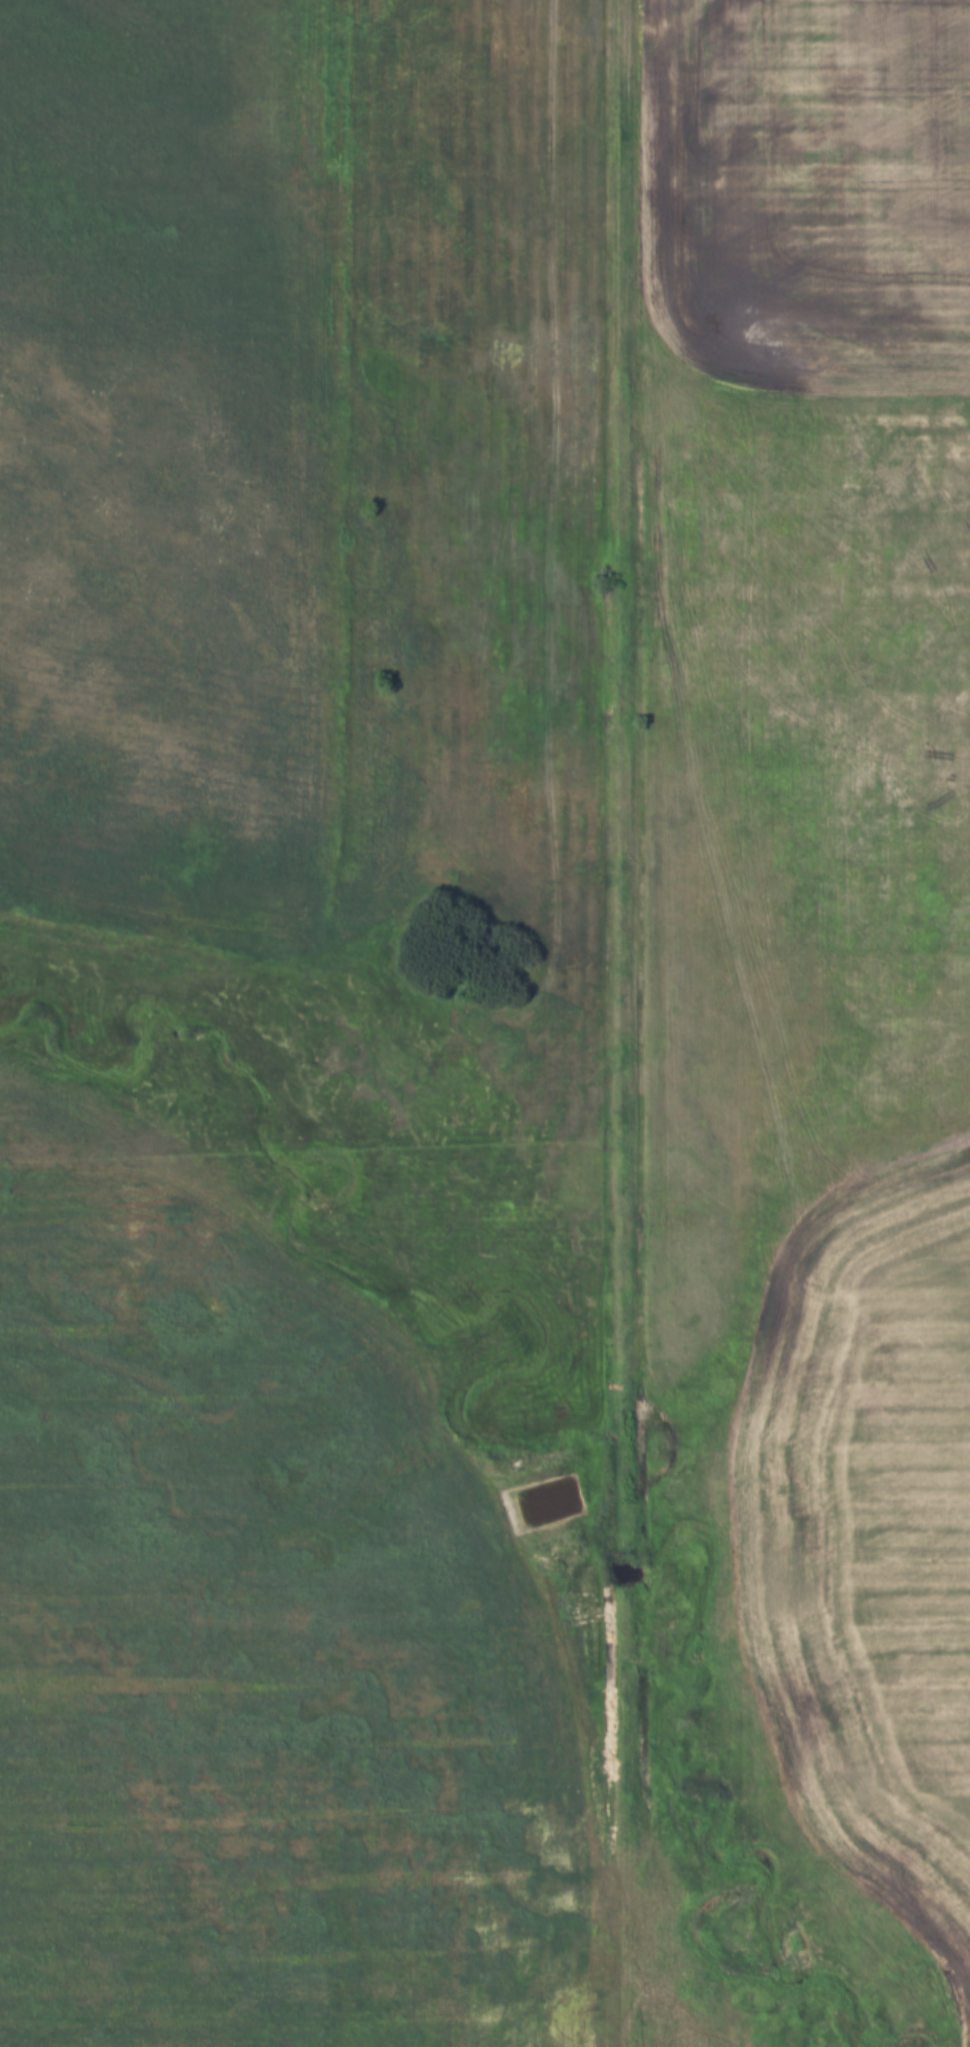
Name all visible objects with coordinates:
road: (636, 1023)

